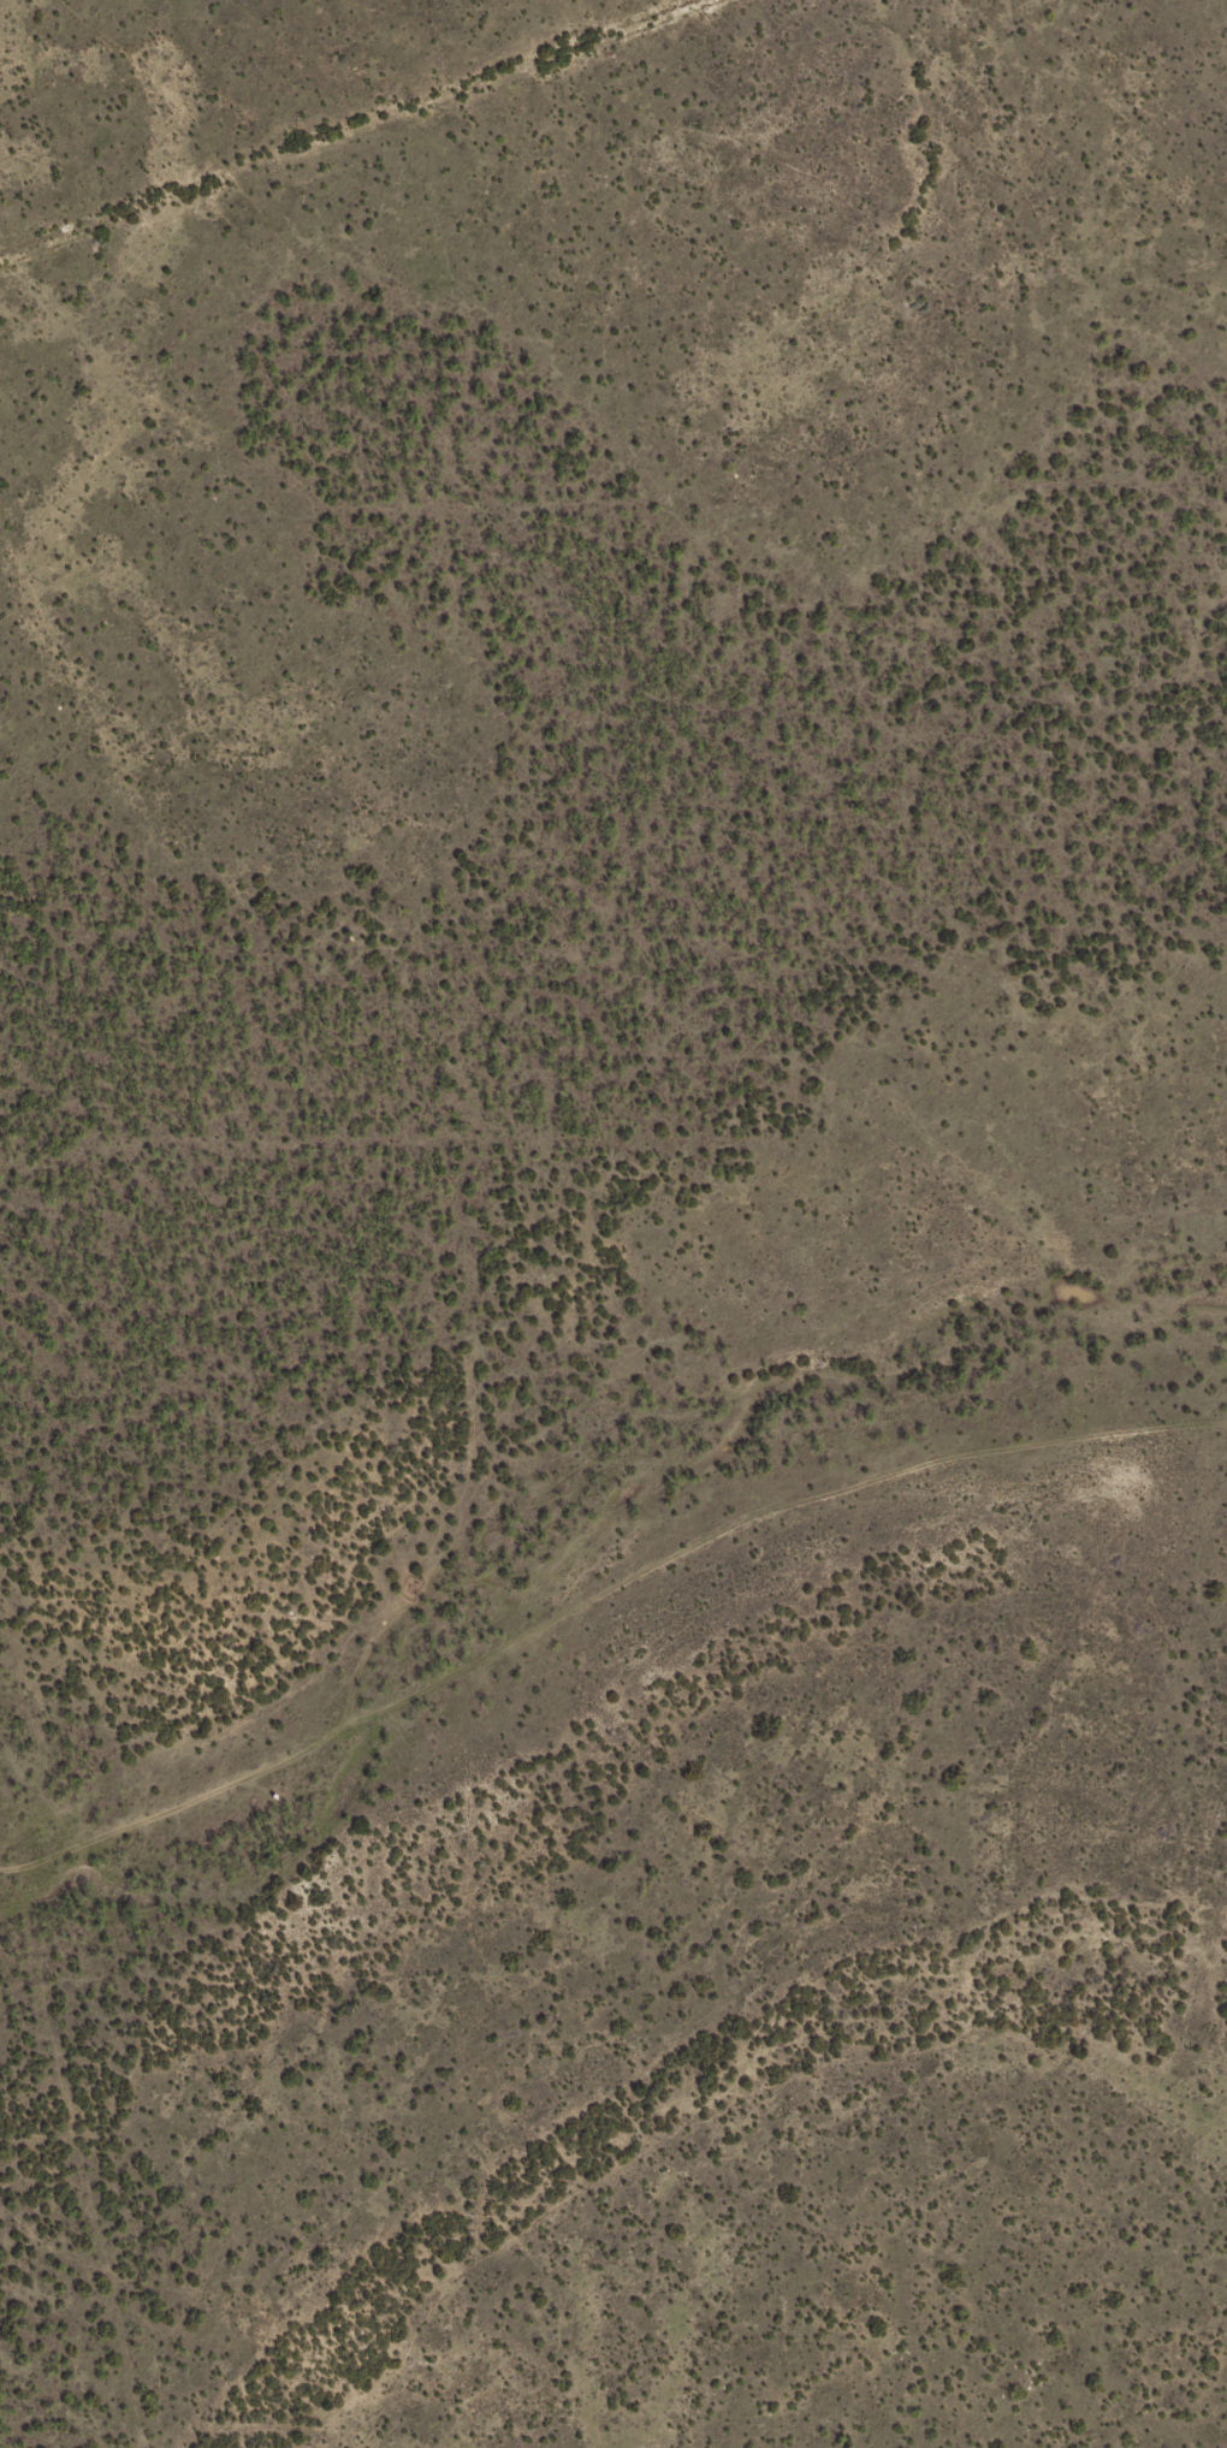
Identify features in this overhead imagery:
road: (588, 1616)

